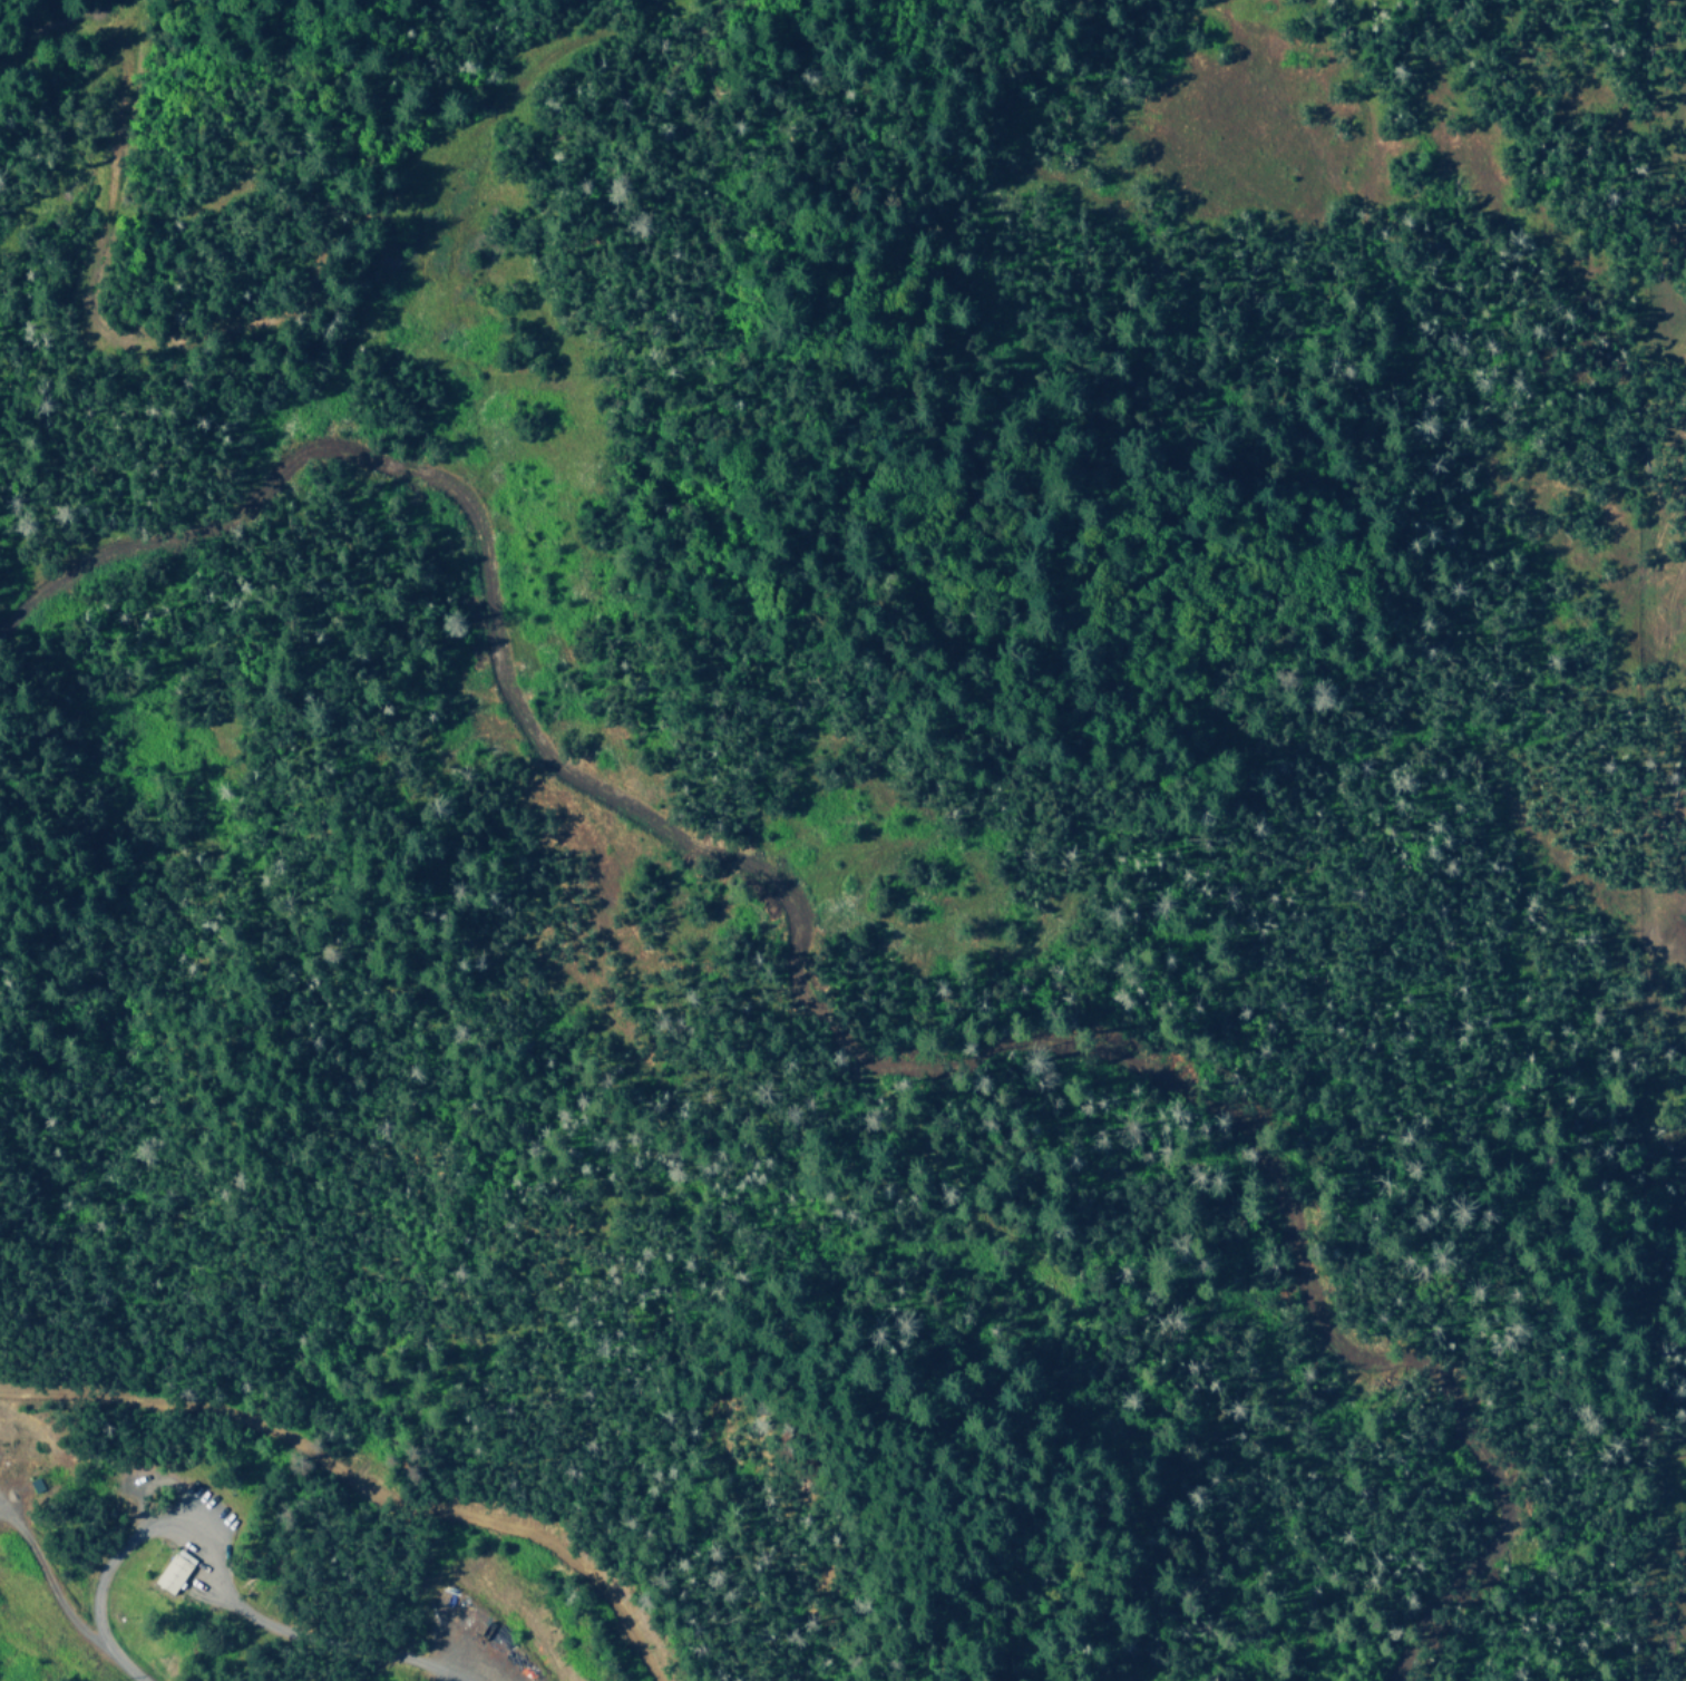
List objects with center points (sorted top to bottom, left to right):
landfill: (282, 1558)
building: (174, 1571)

